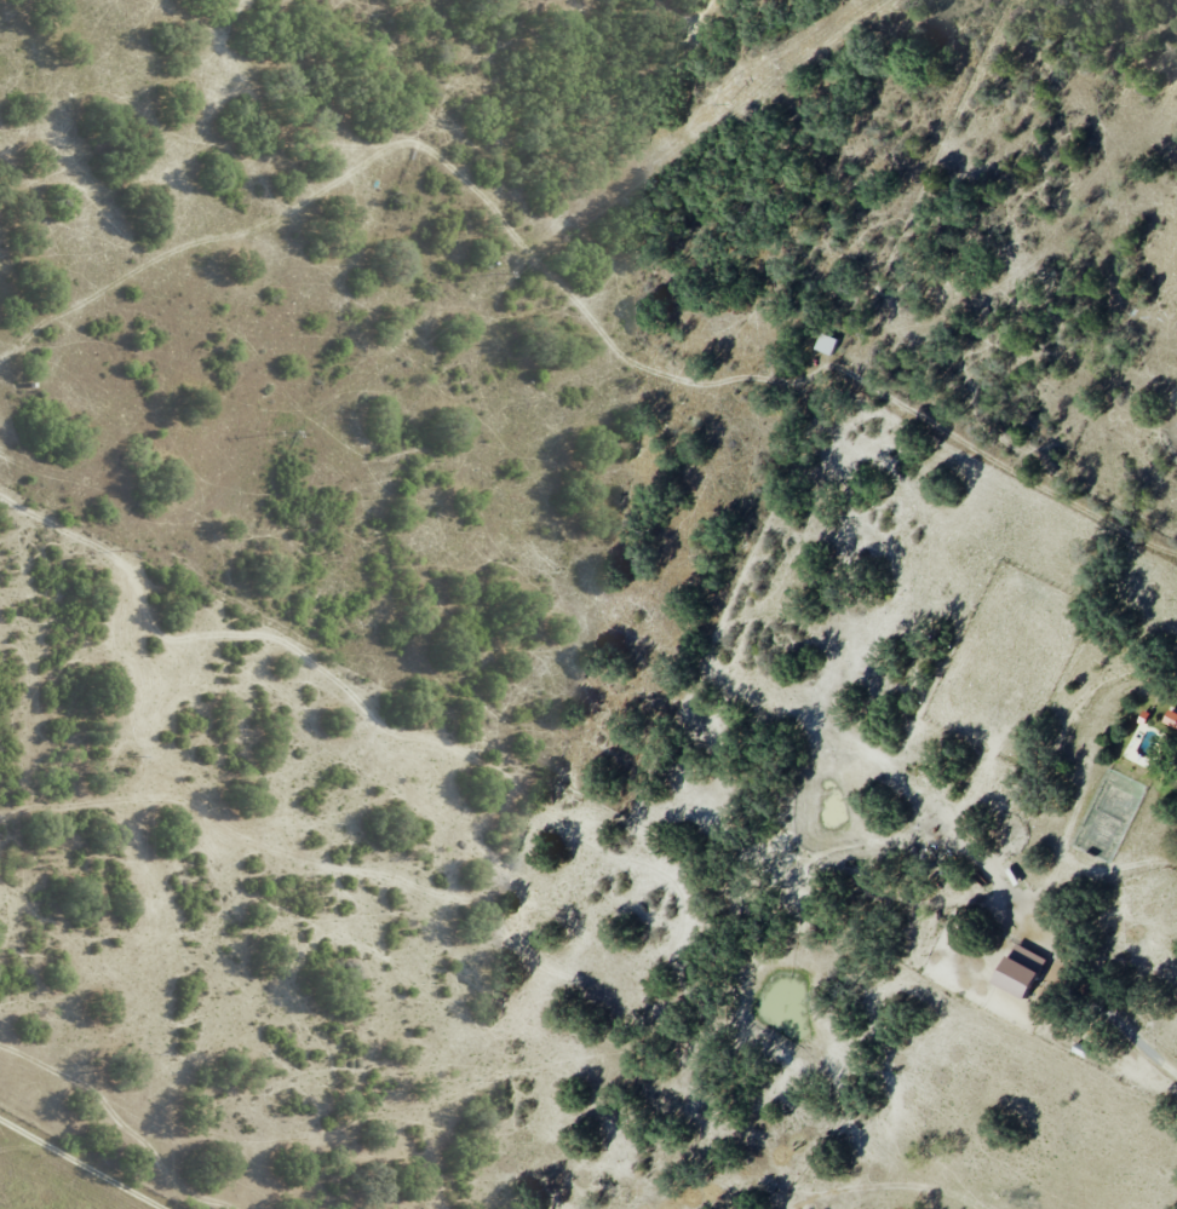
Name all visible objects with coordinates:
power tower: (730, 104)
power tower: (503, 272)
building: (826, 342)
power tower: (286, 433)
power tower: (125, 551)
building: (1171, 719)
power tower: (137, 758)
building: (1020, 971)
power tower: (155, 1053)
road: (80, 1165)

